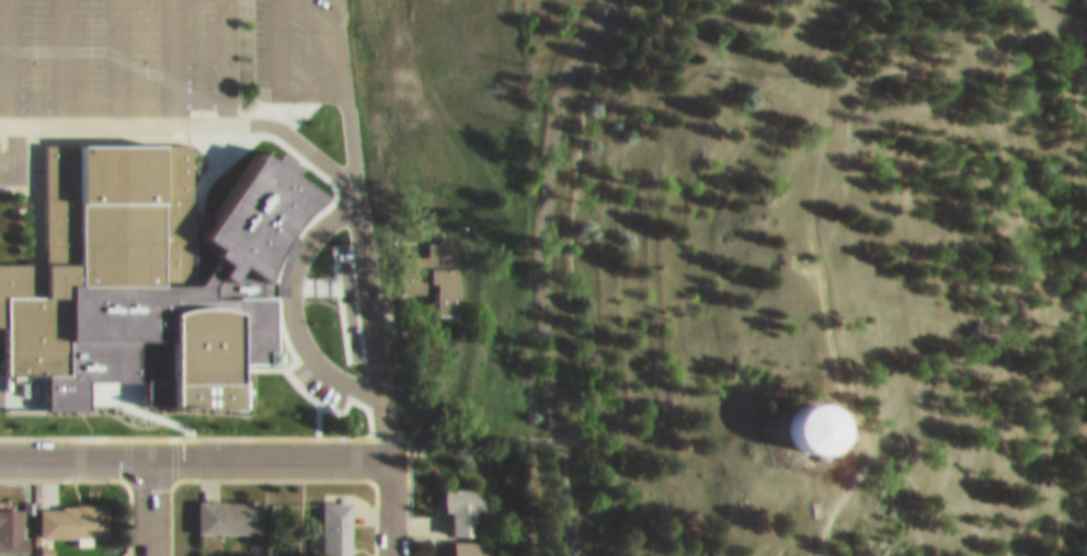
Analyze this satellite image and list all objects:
road: (1071, 22)
road: (4, 56)
road: (61, 56)
road: (118, 56)
road: (172, 56)
road: (229, 56)
parking lot: (158, 59)
road: (276, 72)
road: (186, 112)
road: (12, 135)
road: (809, 188)
road: (358, 223)
building: (435, 259)
building: (155, 267)
road: (539, 274)
park: (803, 278)
building: (825, 417)
road: (468, 433)
road: (193, 448)
road: (851, 465)
building: (466, 497)
road: (386, 501)
road: (147, 502)
building: (229, 506)
building: (13, 520)
building: (337, 522)
building: (472, 543)
building: (7, 554)
building: (213, 554)
building: (90, 555)

